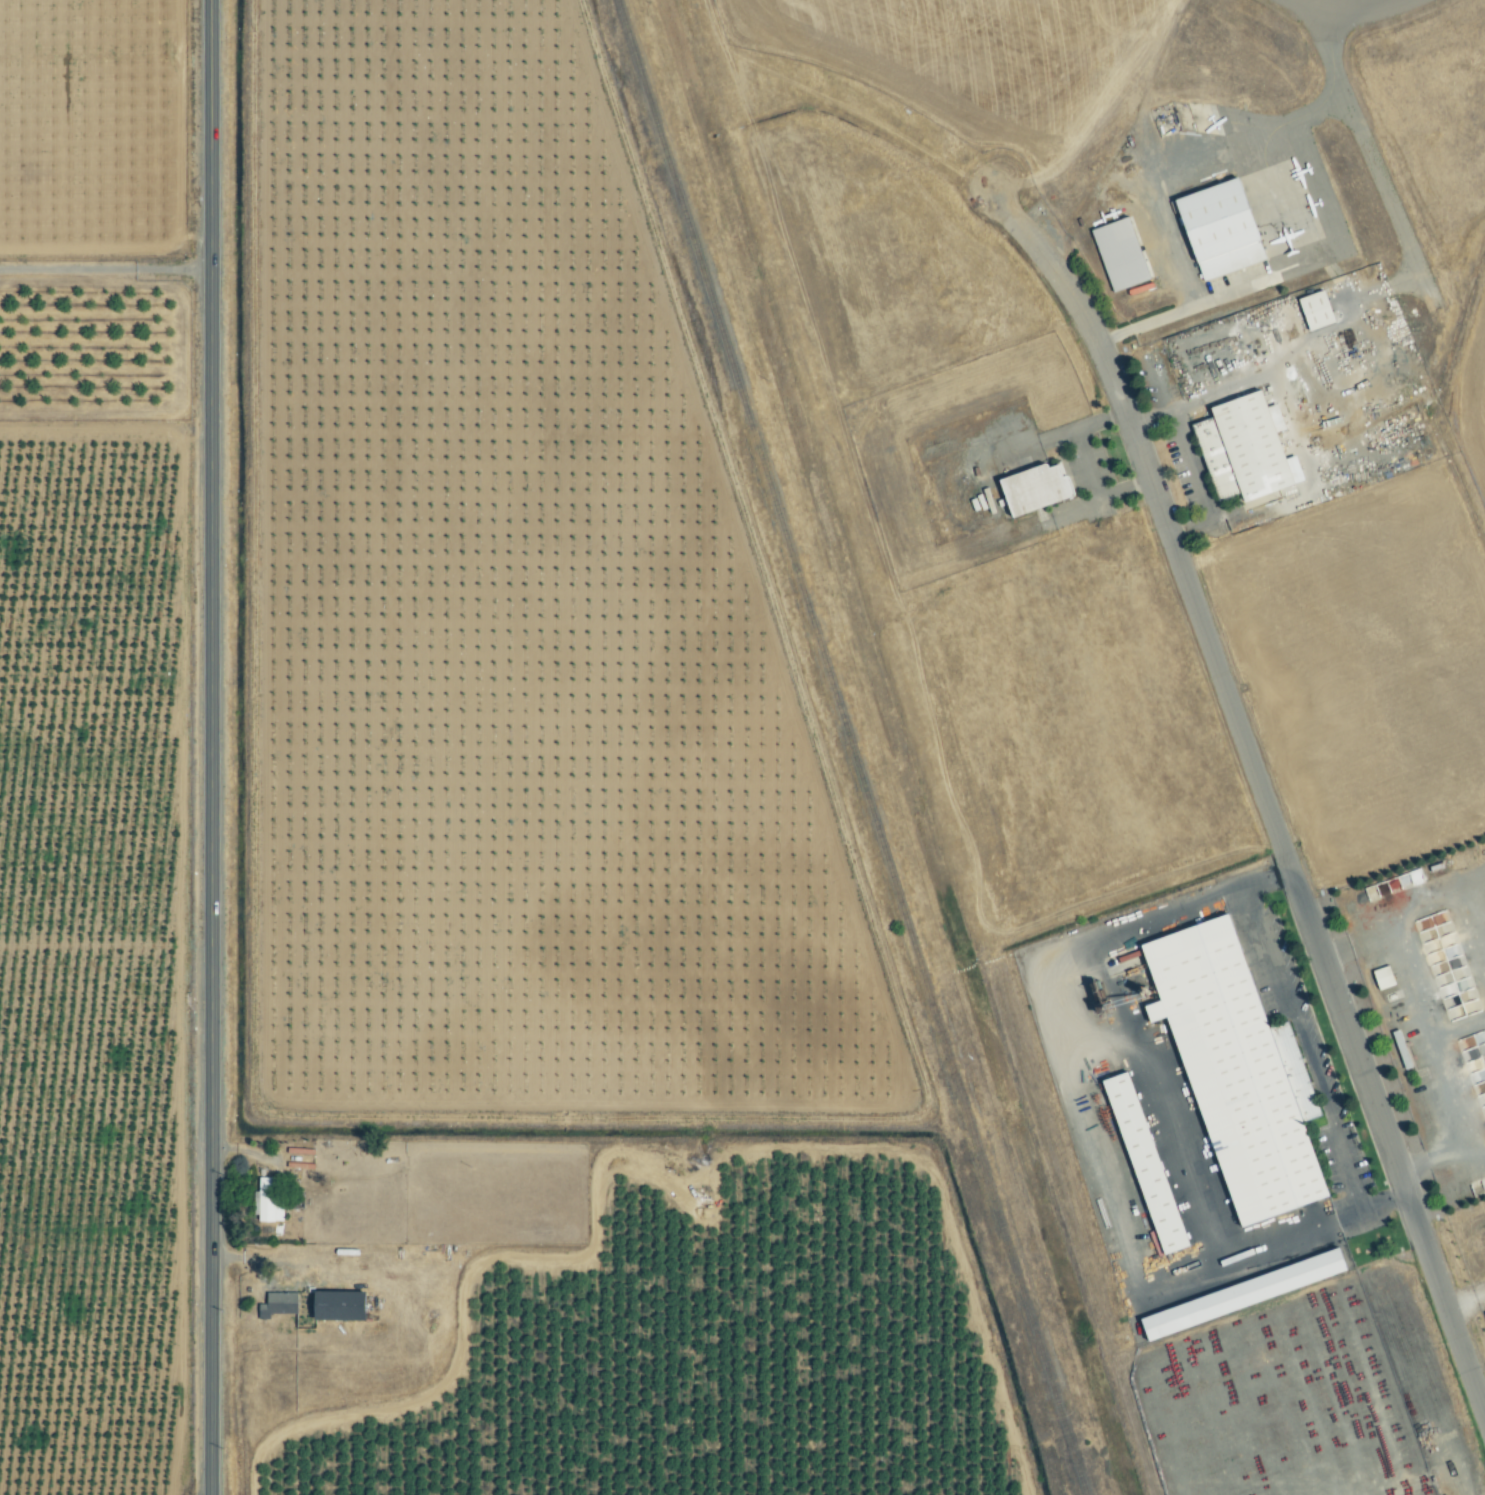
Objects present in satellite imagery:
airport taxiway: (1345, 16)
airport apron: (1253, 171)
airport hangar: (1216, 228)
building: (1216, 228)
airport hangar: (1117, 254)
building: (1117, 254)
road: (105, 269)
road: (1180, 309)
building: (1313, 311)
building: (1237, 448)
road: (1191, 466)
building: (1030, 488)
road: (212, 747)
railway: (850, 747)
road: (1266, 806)
building: (1381, 978)
road: (1276, 985)
road: (1424, 1042)
building: (1235, 1069)
building: (1141, 1164)
road: (1353, 1188)
building: (269, 1200)
building: (1239, 1294)
building: (280, 1305)
building: (343, 1305)
building: (1484, 1315)

